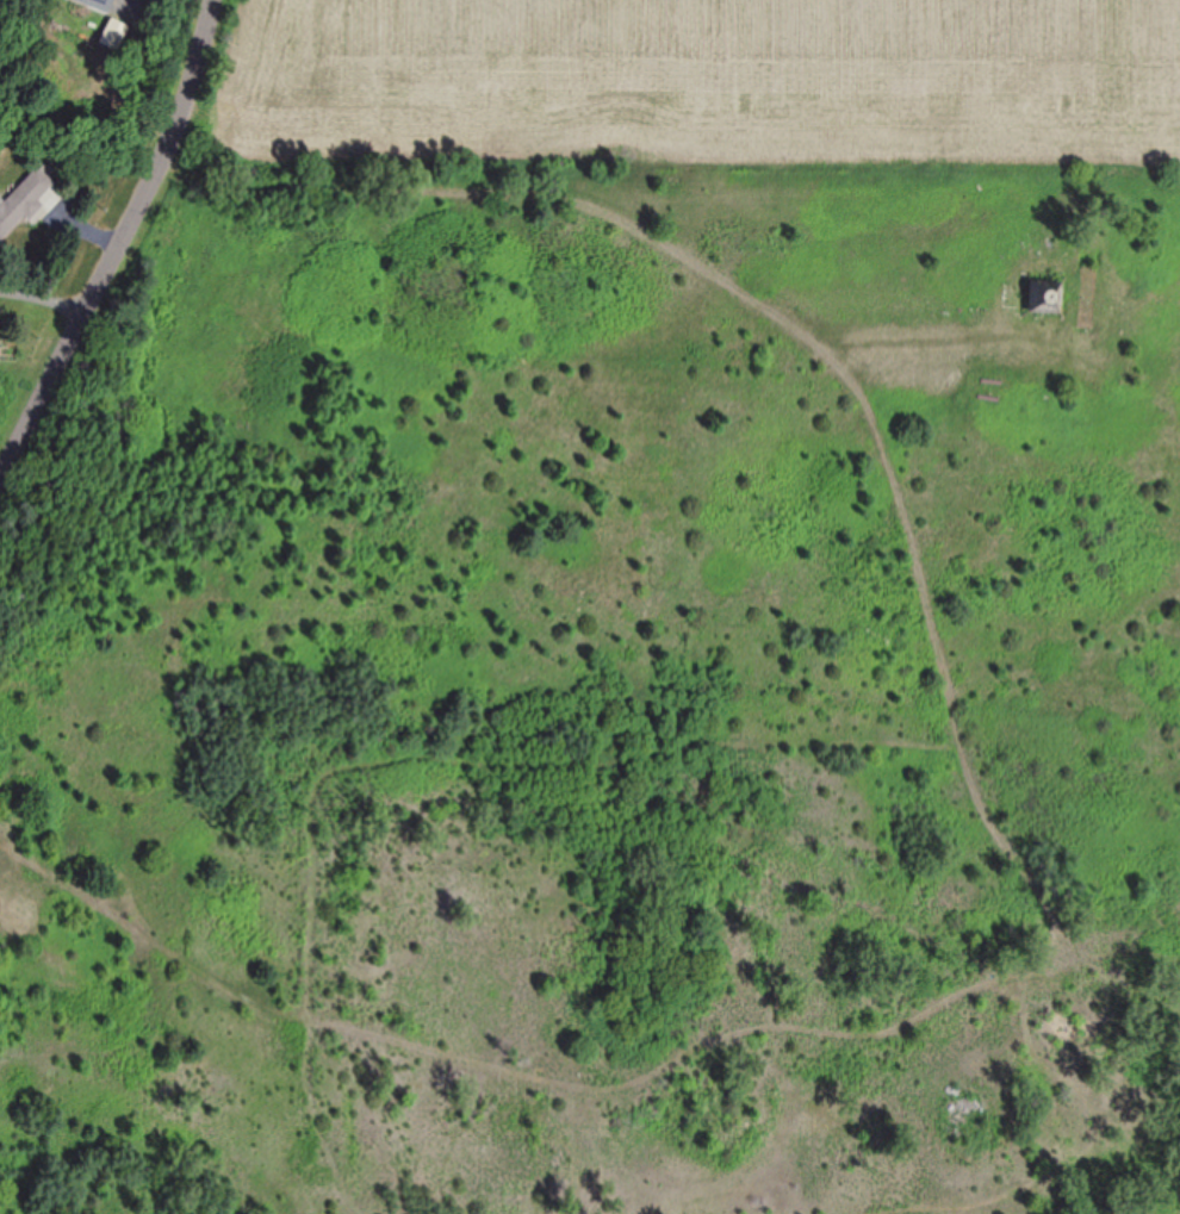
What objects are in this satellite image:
building: (98, 4)
crop: (695, 85)
building: (27, 203)
road: (117, 243)

